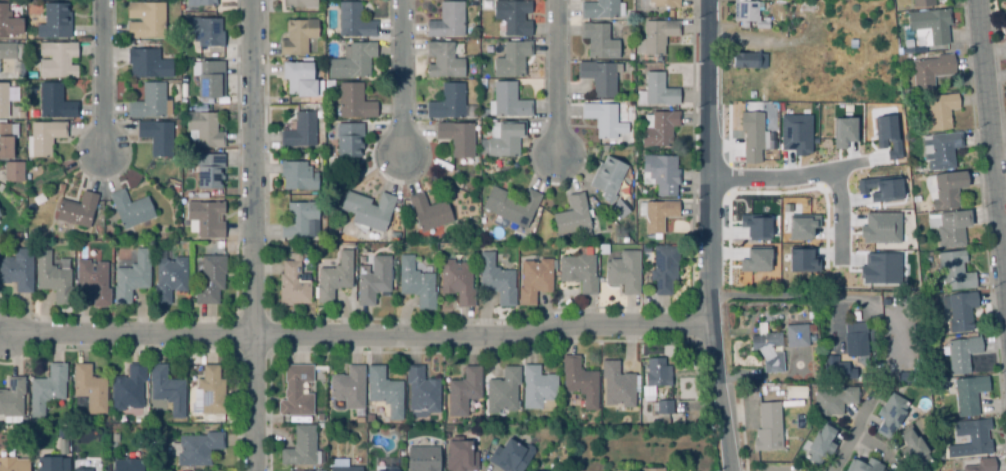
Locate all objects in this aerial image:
building: (664, 2)
building: (200, 3)
building: (298, 3)
building: (922, 3)
building: (598, 9)
building: (748, 12)
building: (512, 16)
building: (145, 19)
building: (353, 20)
building: (447, 20)
building: (54, 21)
building: (8, 22)
building: (1004, 23)
building: (929, 26)
building: (204, 31)
building: (658, 35)
building: (297, 36)
building: (599, 40)
building: (852, 43)
building: (7, 50)
building: (511, 58)
building: (56, 59)
building: (657, 59)
building: (443, 60)
building: (748, 60)
building: (146, 61)
building: (352, 61)
building: (930, 71)
road: (102, 76)
road: (401, 77)
building: (598, 77)
building: (208, 78)
building: (298, 78)
road: (555, 78)
building: (483, 86)
building: (658, 90)
building: (752, 93)
building: (6, 98)
building: (508, 100)
building: (54, 101)
building: (148, 101)
building: (353, 101)
building: (447, 102)
building: (938, 111)
building: (638, 112)
building: (602, 119)
building: (203, 129)
building: (659, 129)
building: (299, 130)
building: (844, 131)
building: (795, 134)
building: (887, 135)
building: (156, 136)
building: (751, 136)
building: (456, 137)
building: (6, 138)
building: (42, 138)
building: (504, 138)
building: (348, 139)
building: (940, 150)
road: (990, 164)
building: (207, 169)
building: (12, 171)
building: (660, 174)
building: (297, 175)
road: (787, 177)
building: (607, 178)
building: (880, 188)
building: (947, 188)
building: (175, 190)
building: (38, 198)
building: (512, 204)
building: (130, 208)
building: (618, 208)
building: (77, 209)
building: (367, 209)
building: (428, 212)
building: (182, 214)
building: (658, 214)
building: (573, 216)
building: (204, 218)
building: (297, 218)
road: (841, 218)
building: (755, 226)
building: (801, 227)
building: (949, 227)
building: (311, 228)
building: (880, 228)
building: (99, 234)
building: (350, 234)
building: (34, 235)
road: (254, 235)
building: (394, 235)
road: (708, 236)
building: (755, 259)
building: (801, 259)
building: (663, 268)
building: (880, 268)
building: (18, 269)
building: (578, 271)
building: (623, 271)
building: (953, 271)
building: (131, 277)
building: (334, 277)
building: (52, 278)
building: (168, 279)
building: (209, 279)
building: (373, 280)
building: (496, 280)
building: (533, 280)
building: (92, 281)
building: (457, 281)
building: (415, 283)
building: (833, 283)
building: (292, 284)
building: (961, 310)
road: (356, 334)
building: (795, 335)
building: (854, 338)
building: (767, 348)
building: (960, 354)
building: (833, 367)
building: (657, 372)
building: (906, 375)
building: (861, 379)
building: (579, 381)
building: (616, 384)
building: (128, 387)
building: (348, 387)
building: (537, 387)
building: (46, 388)
building: (89, 388)
building: (166, 389)
building: (503, 390)
building: (295, 391)
building: (384, 391)
building: (463, 391)
building: (795, 391)
building: (209, 392)
building: (421, 392)
building: (968, 394)
building: (11, 397)
building: (831, 398)
building: (663, 407)
building: (890, 415)
building: (370, 420)
building: (644, 422)
building: (768, 426)
road: (854, 436)
building: (114, 437)
building: (970, 438)
building: (820, 443)
building: (299, 446)
building: (195, 448)
building: (913, 448)
building: (62, 450)
road: (880, 451)
building: (459, 455)
building: (508, 457)
building: (422, 458)
building: (13, 464)
building: (51, 464)
building: (127, 465)
building: (863, 465)
building: (981, 465)
building: (344, 468)
building: (81, 469)
building: (652, 469)
building: (381, 470)
building: (543, 470)
building: (547, 470)

